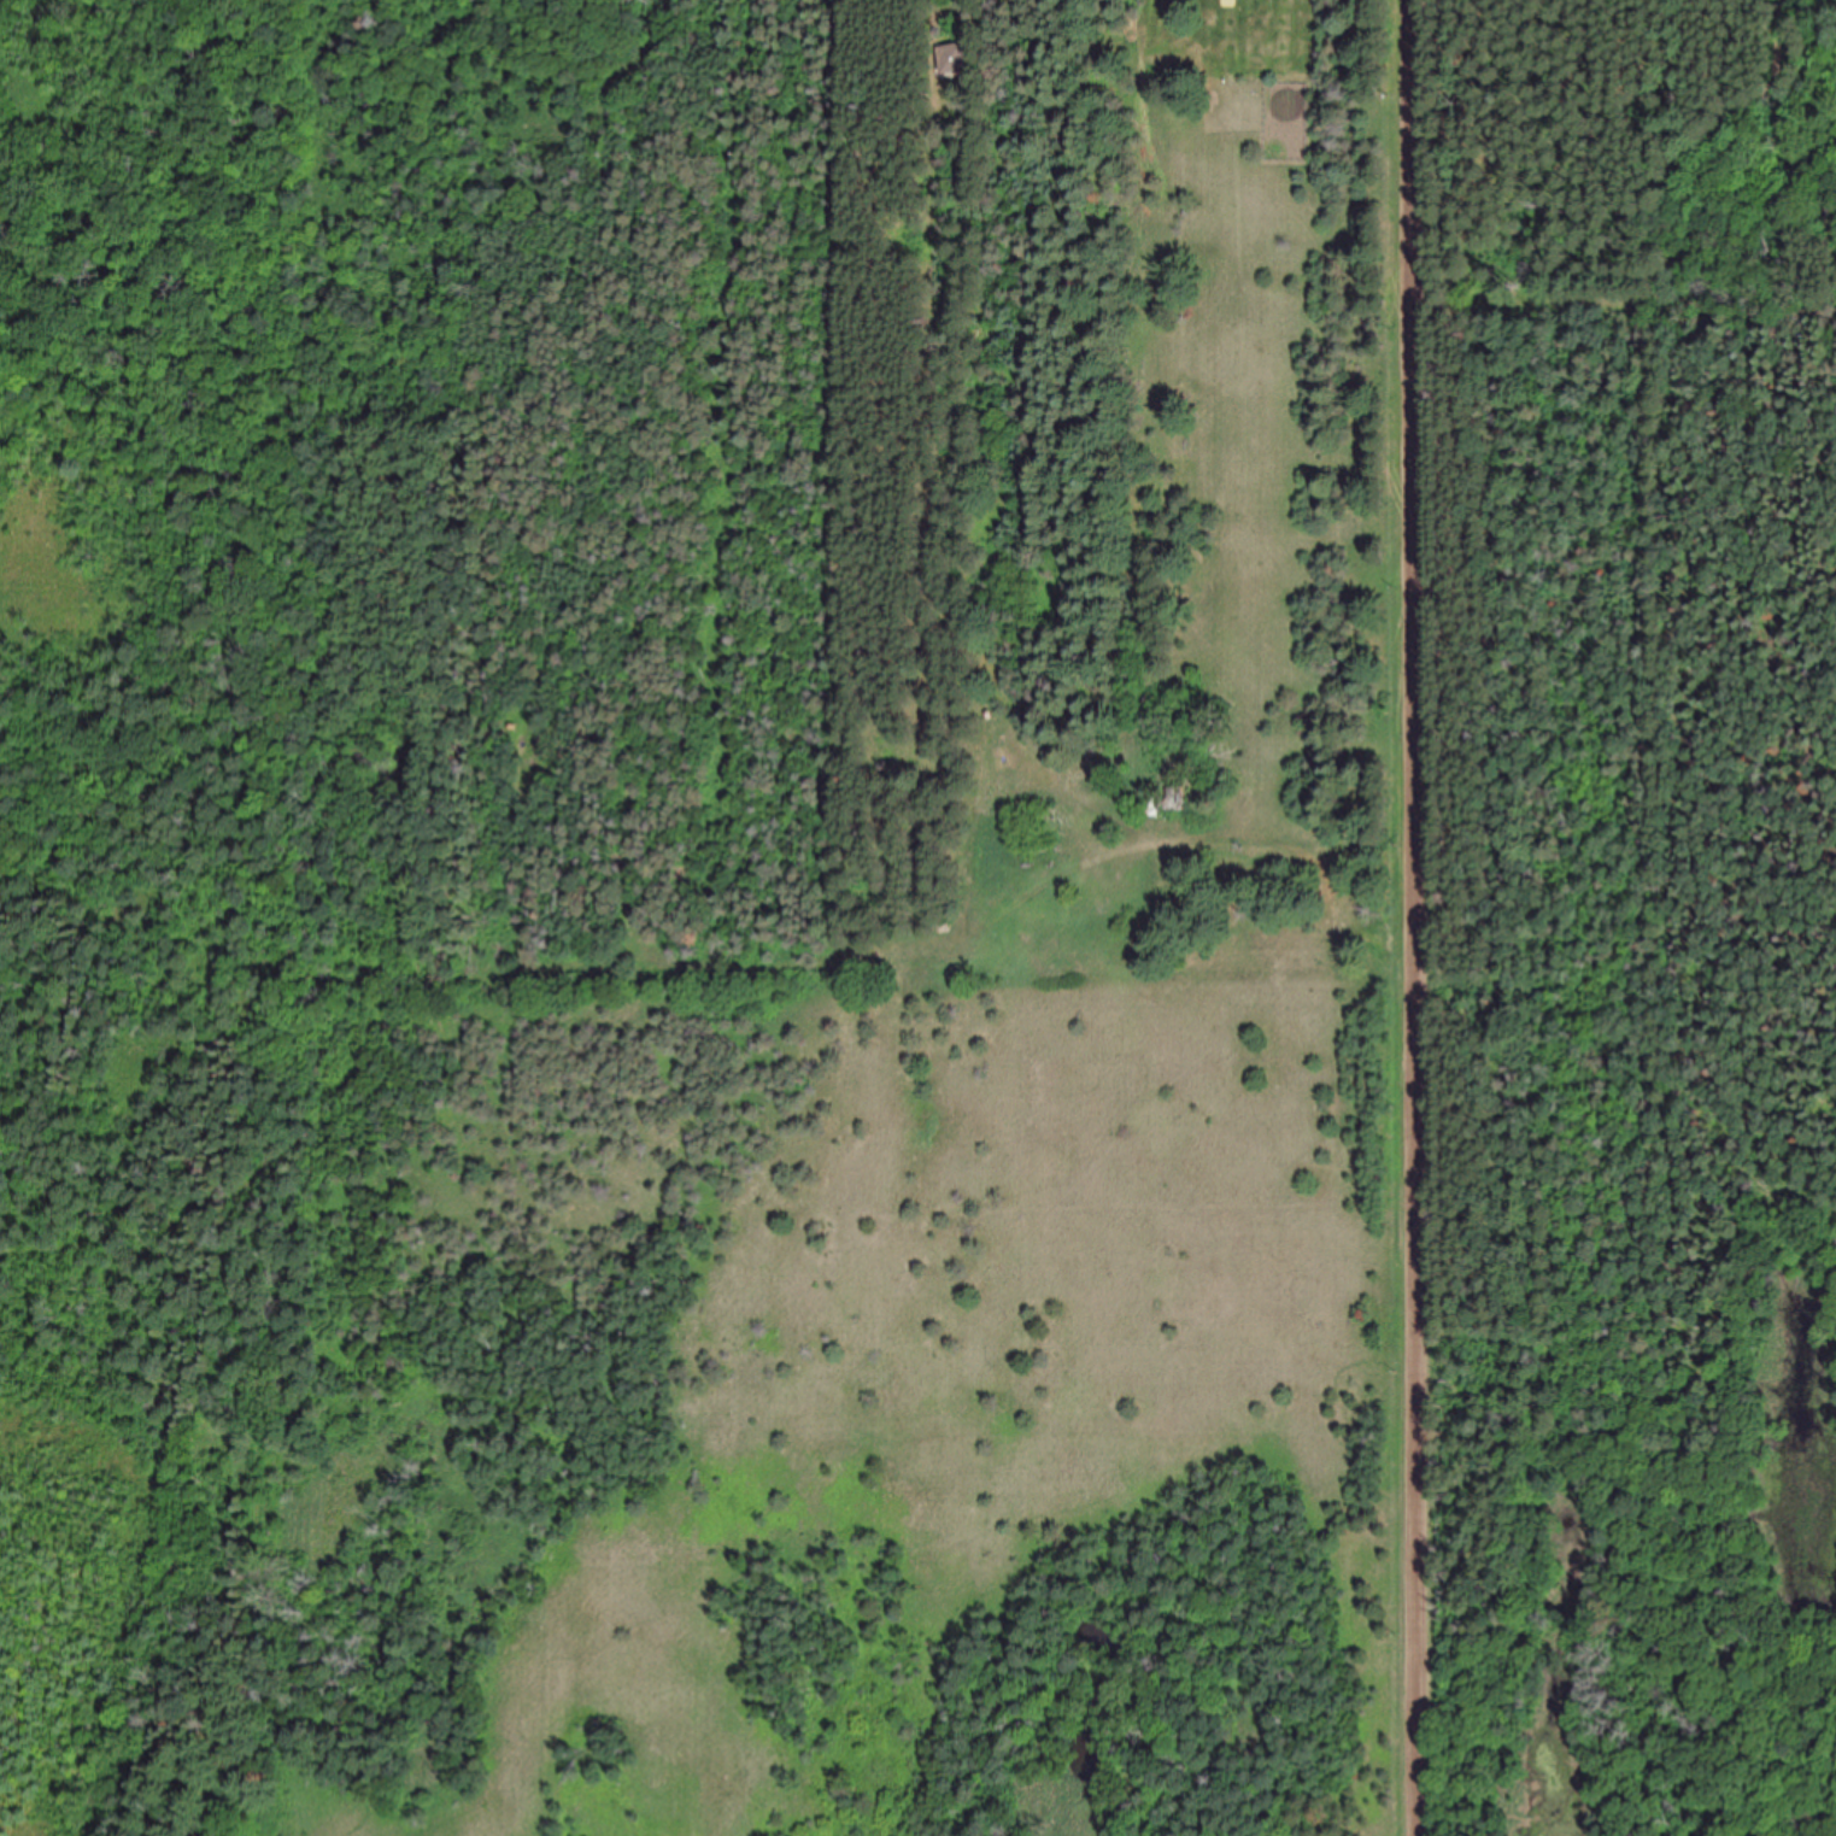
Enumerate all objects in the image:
road: (1713, 156)
road: (1626, 305)
building: (1173, 799)
park: (1618, 909)
road: (1420, 917)

